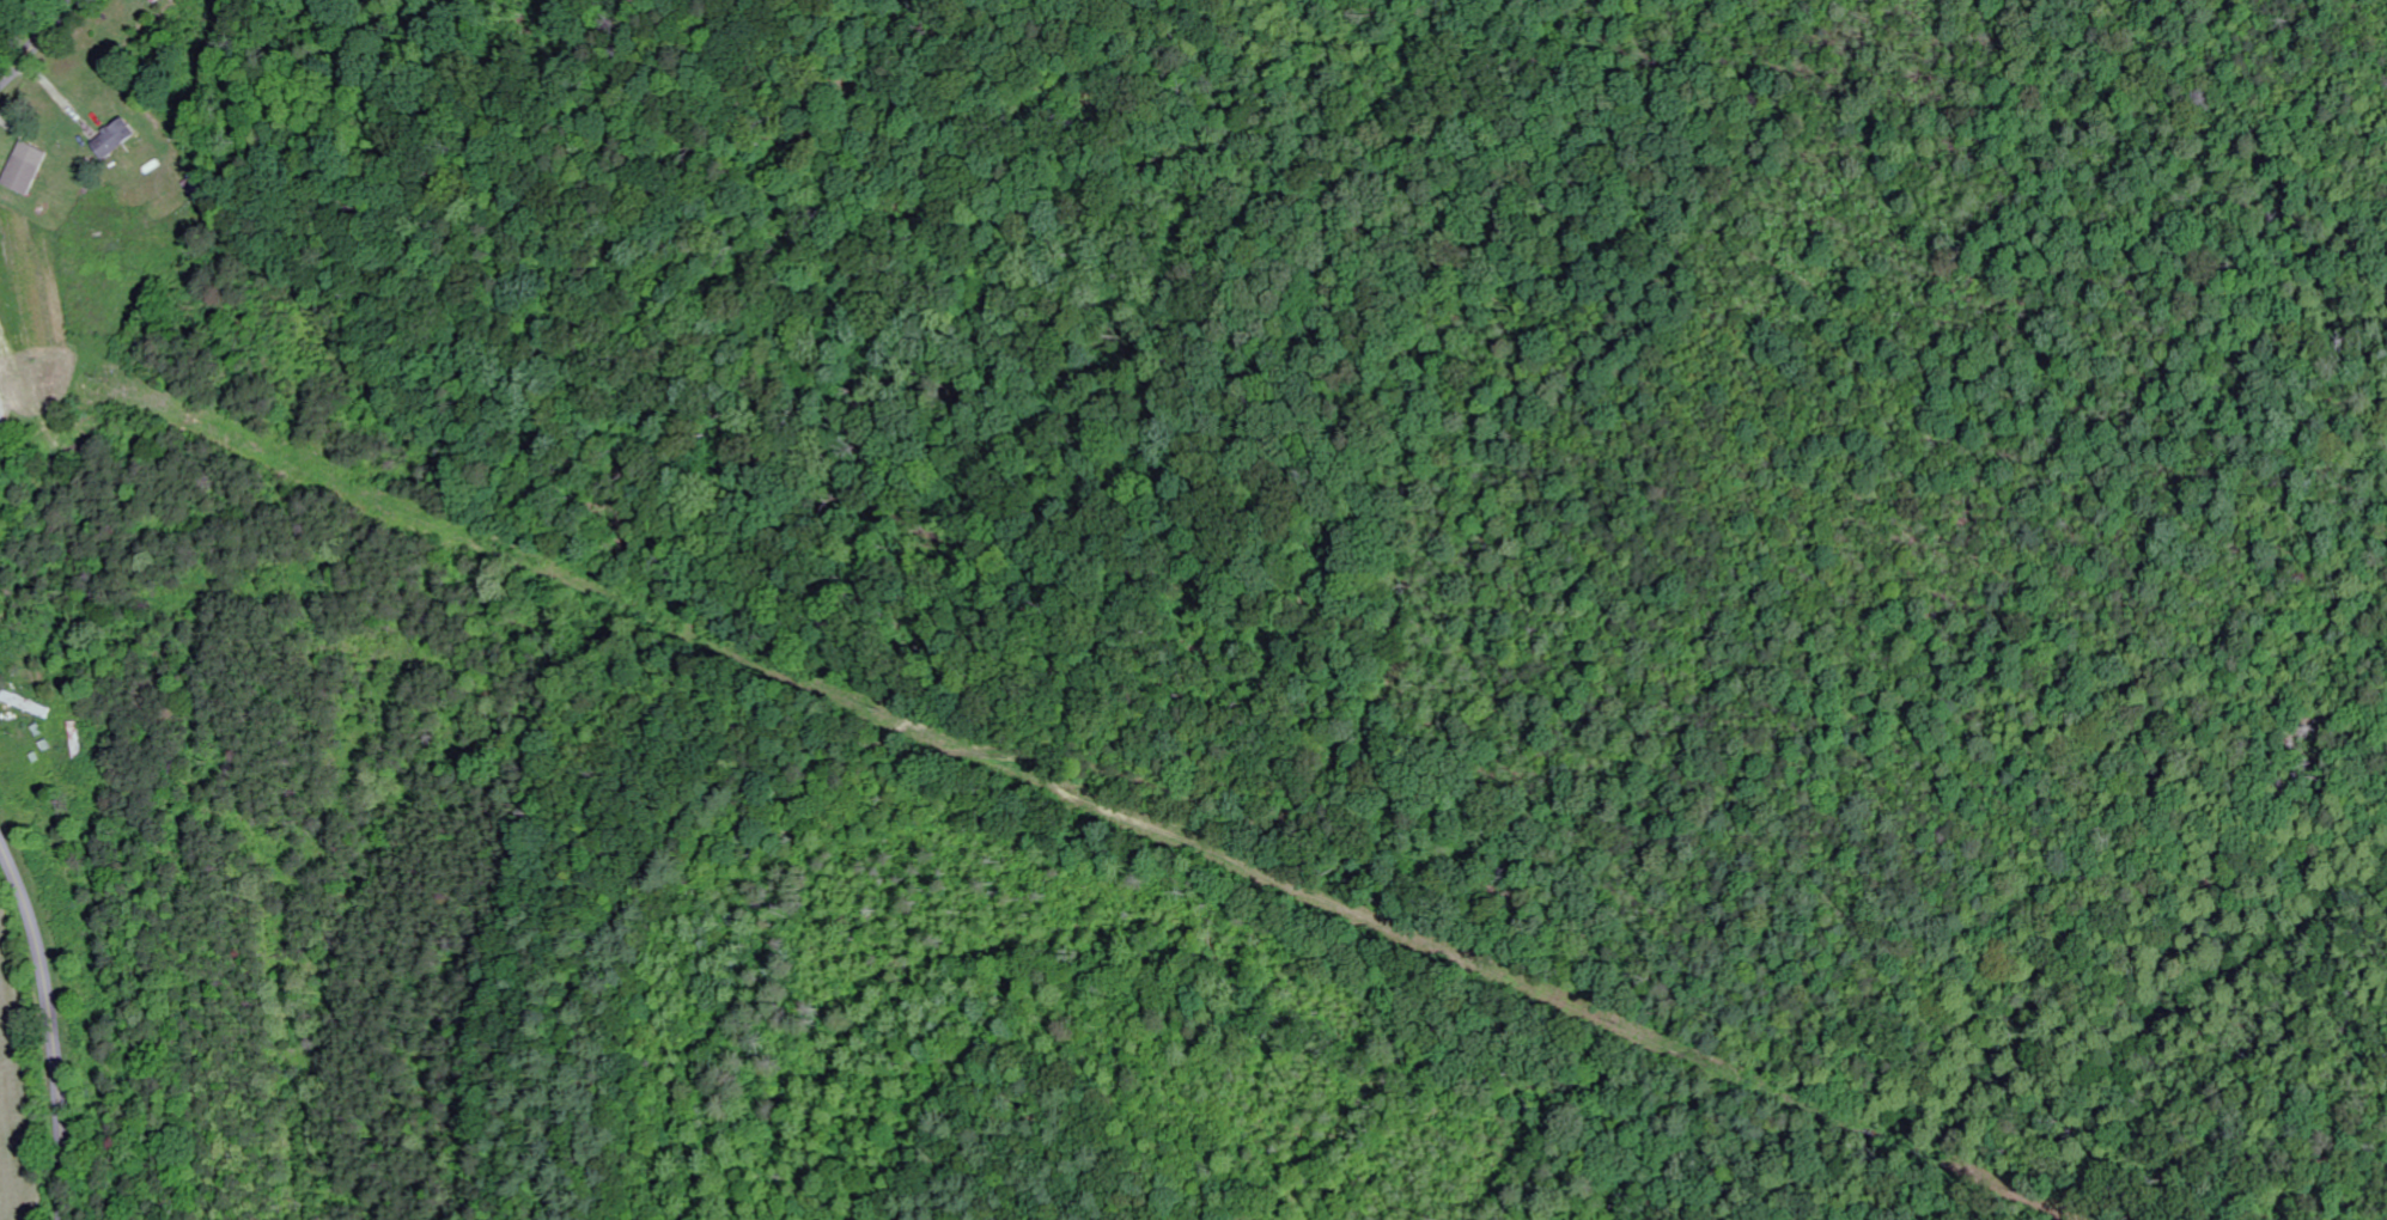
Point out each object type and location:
building: (162, 1)
road: (38, 42)
building: (117, 140)
building: (28, 169)
road: (53, 1018)

